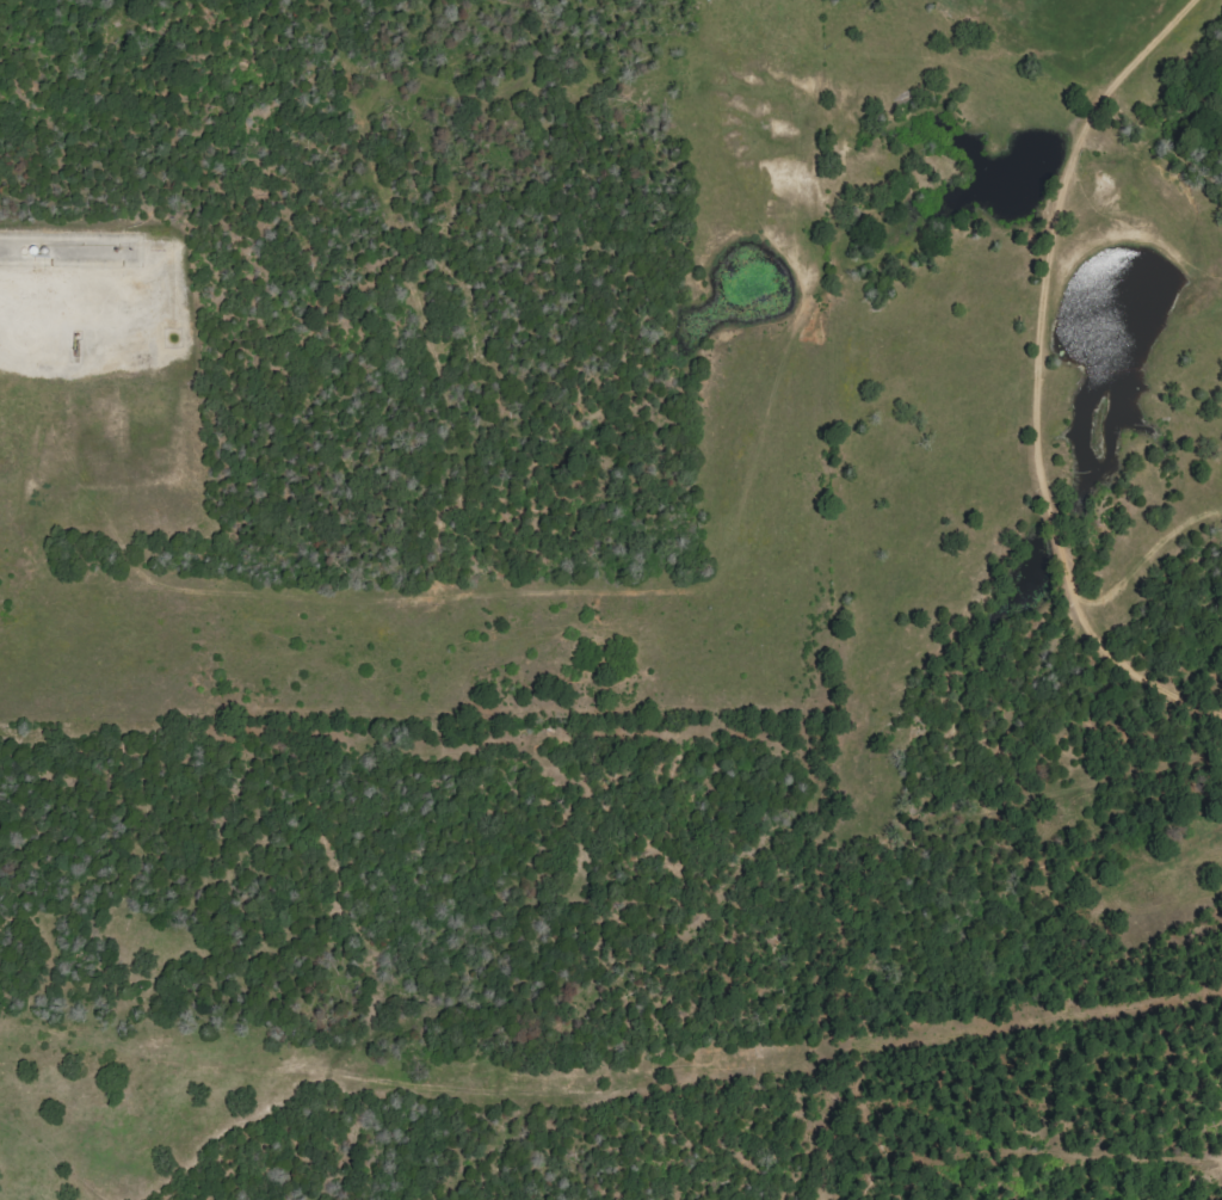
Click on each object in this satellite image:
road: (11, 265)
road: (11, 277)
petroleum well: (69, 343)
road: (1032, 377)
road: (428, 767)
road: (769, 1041)

